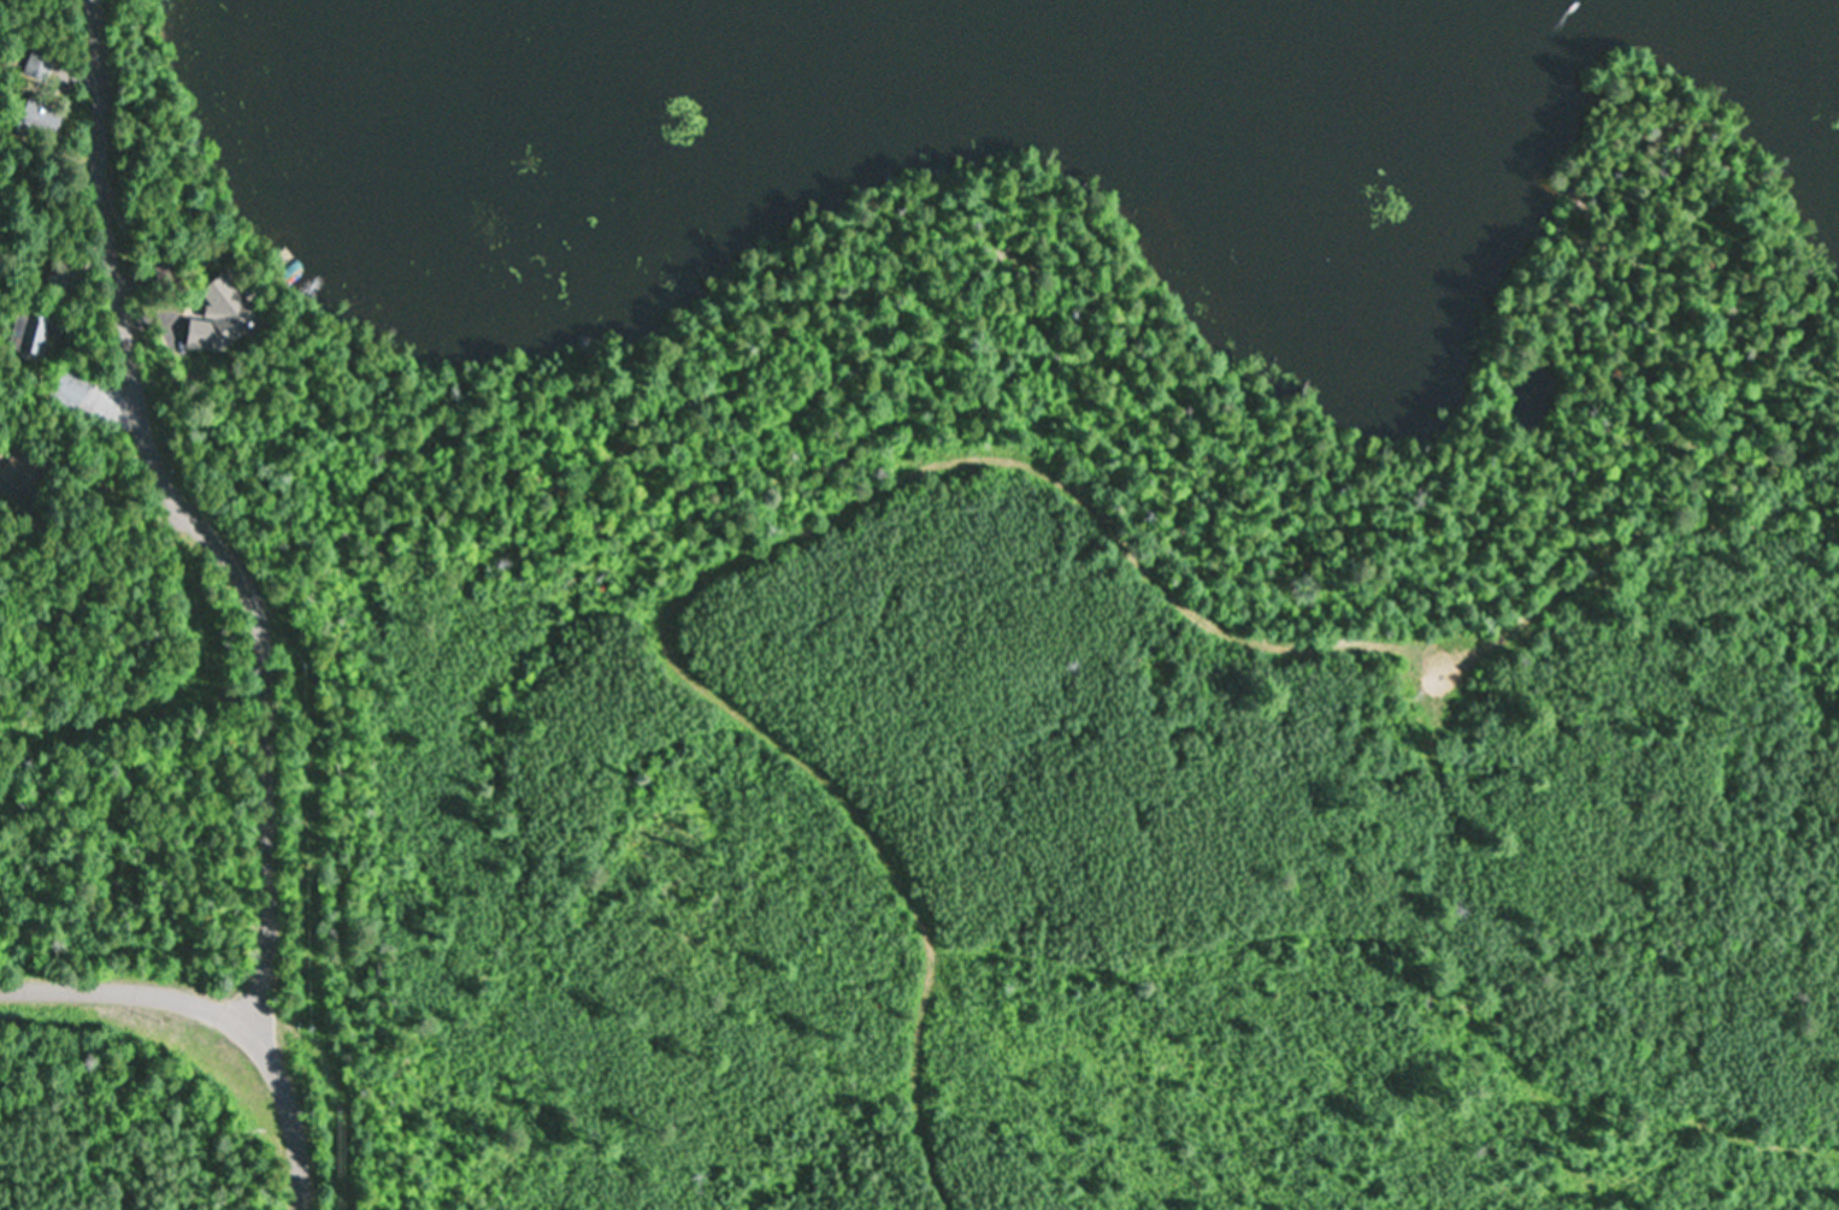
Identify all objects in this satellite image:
river: (1267, 0)
river: (1821, 11)
building: (39, 61)
building: (41, 114)
building: (226, 303)
building: (35, 336)
building: (70, 388)
building: (13, 465)
road: (189, 518)
road: (96, 691)
road: (220, 1013)

